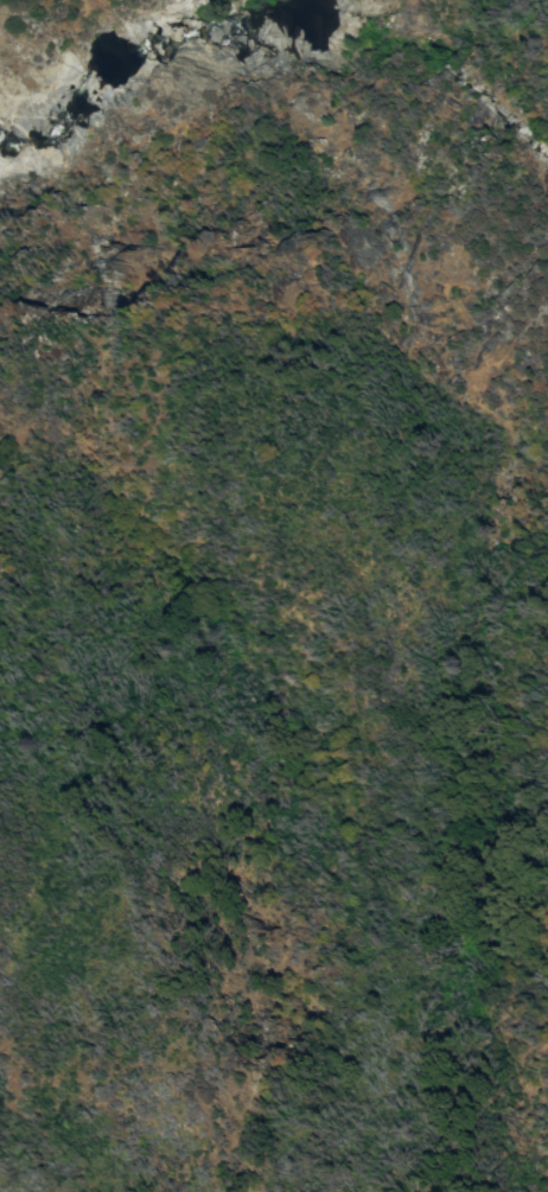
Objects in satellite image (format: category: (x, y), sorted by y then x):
river: (148, 63)

